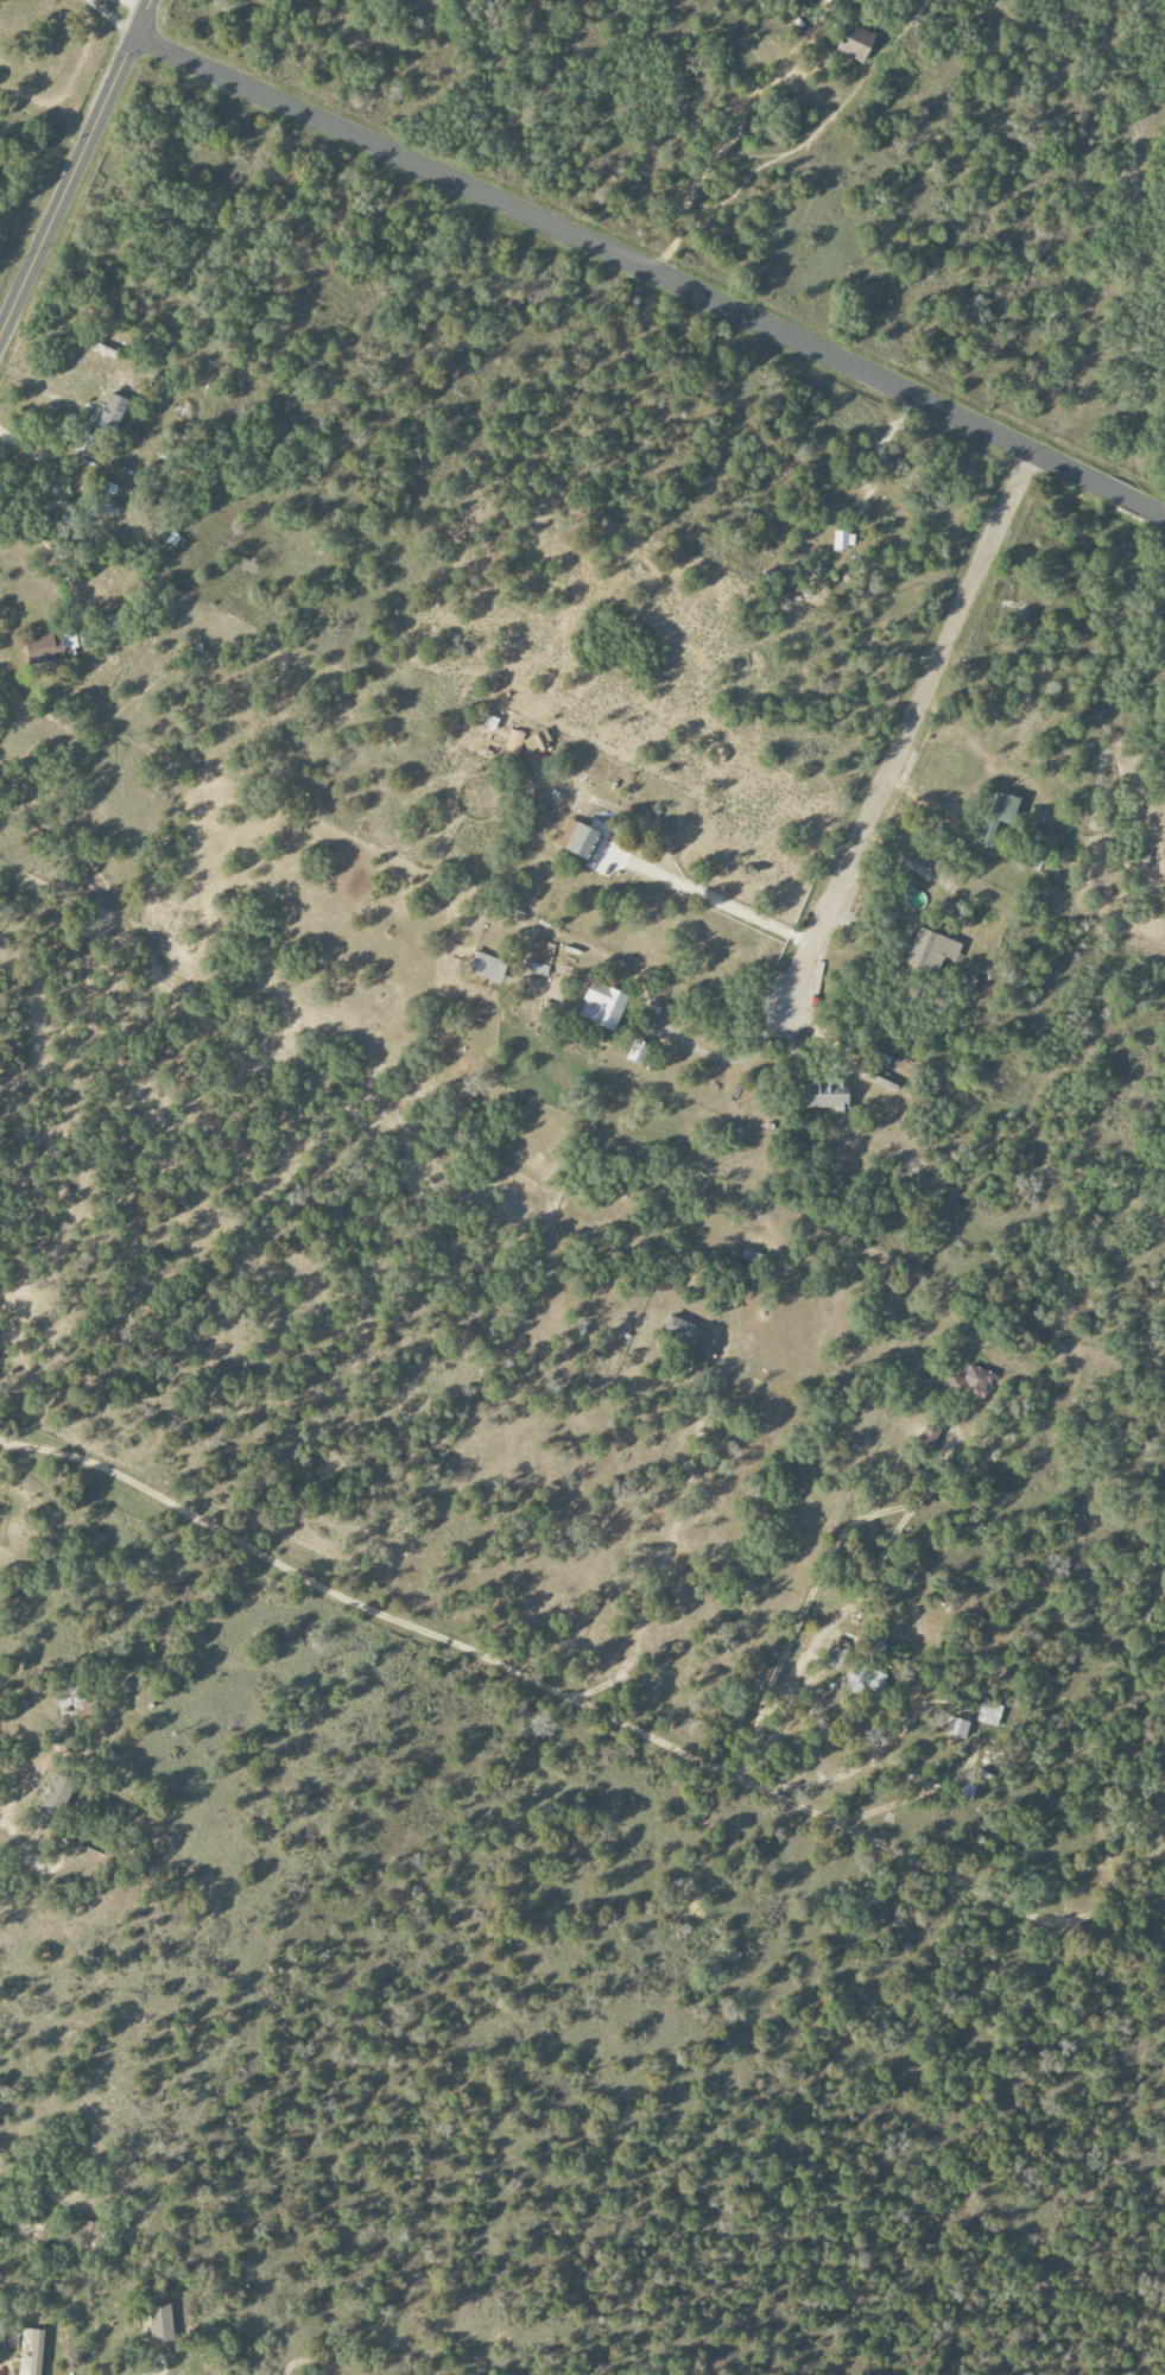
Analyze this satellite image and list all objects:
road: (138, 5)
road: (108, 15)
building: (855, 43)
road: (718, 145)
road: (75, 170)
road: (651, 271)
building: (110, 414)
road: (879, 452)
building: (843, 540)
road: (46, 546)
building: (45, 647)
road: (907, 733)
building: (527, 742)
building: (999, 815)
building: (578, 840)
road: (708, 894)
building: (931, 950)
building: (487, 967)
building: (602, 1006)
building: (637, 1052)
road: (726, 1059)
building: (824, 1096)
building: (684, 1332)
building: (970, 1383)
building: (927, 1437)
road: (804, 1620)
road: (758, 1634)
building: (838, 1657)
building: (865, 1679)
road: (577, 1708)
building: (988, 1714)
building: (956, 1728)
building: (53, 1803)
road: (1, 1828)
road: (59, 1861)
building: (160, 2323)
building: (31, 2351)
road: (158, 2370)

